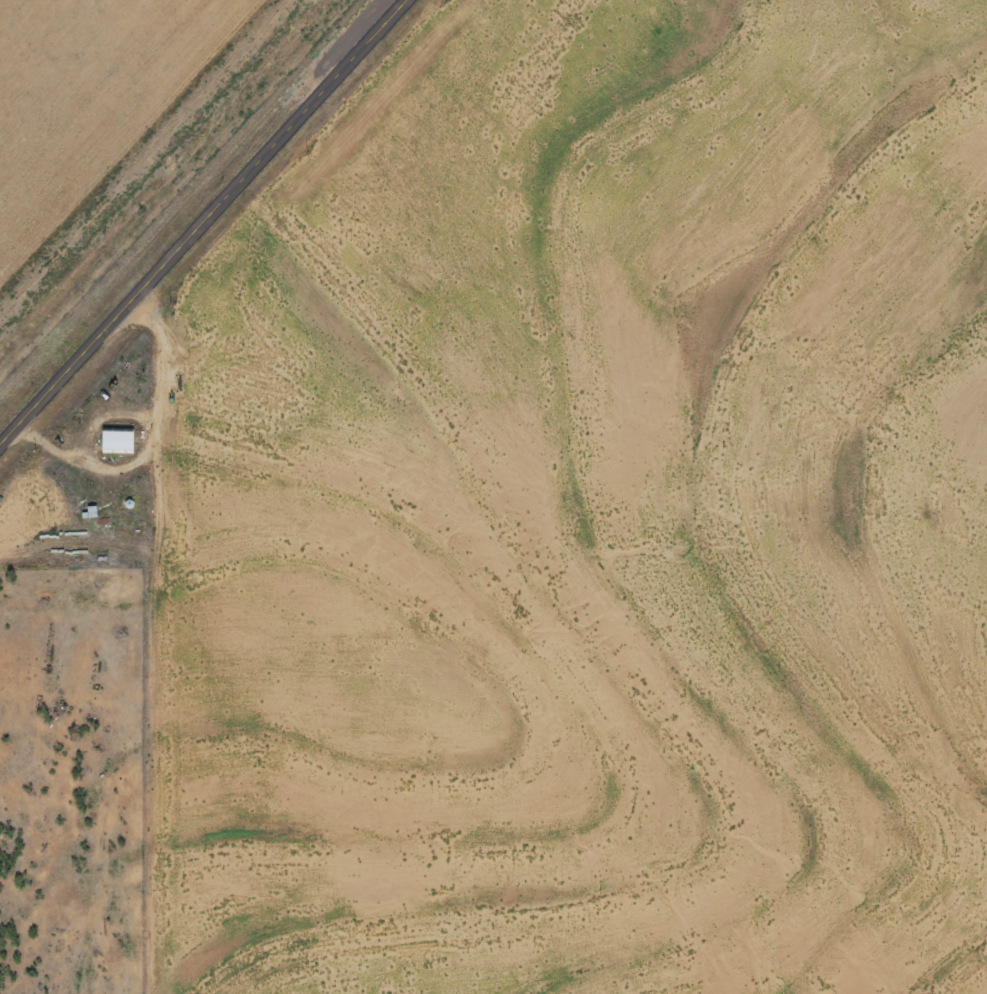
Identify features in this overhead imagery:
railway: (164, 168)
road: (205, 225)
building: (118, 442)
road: (154, 659)

